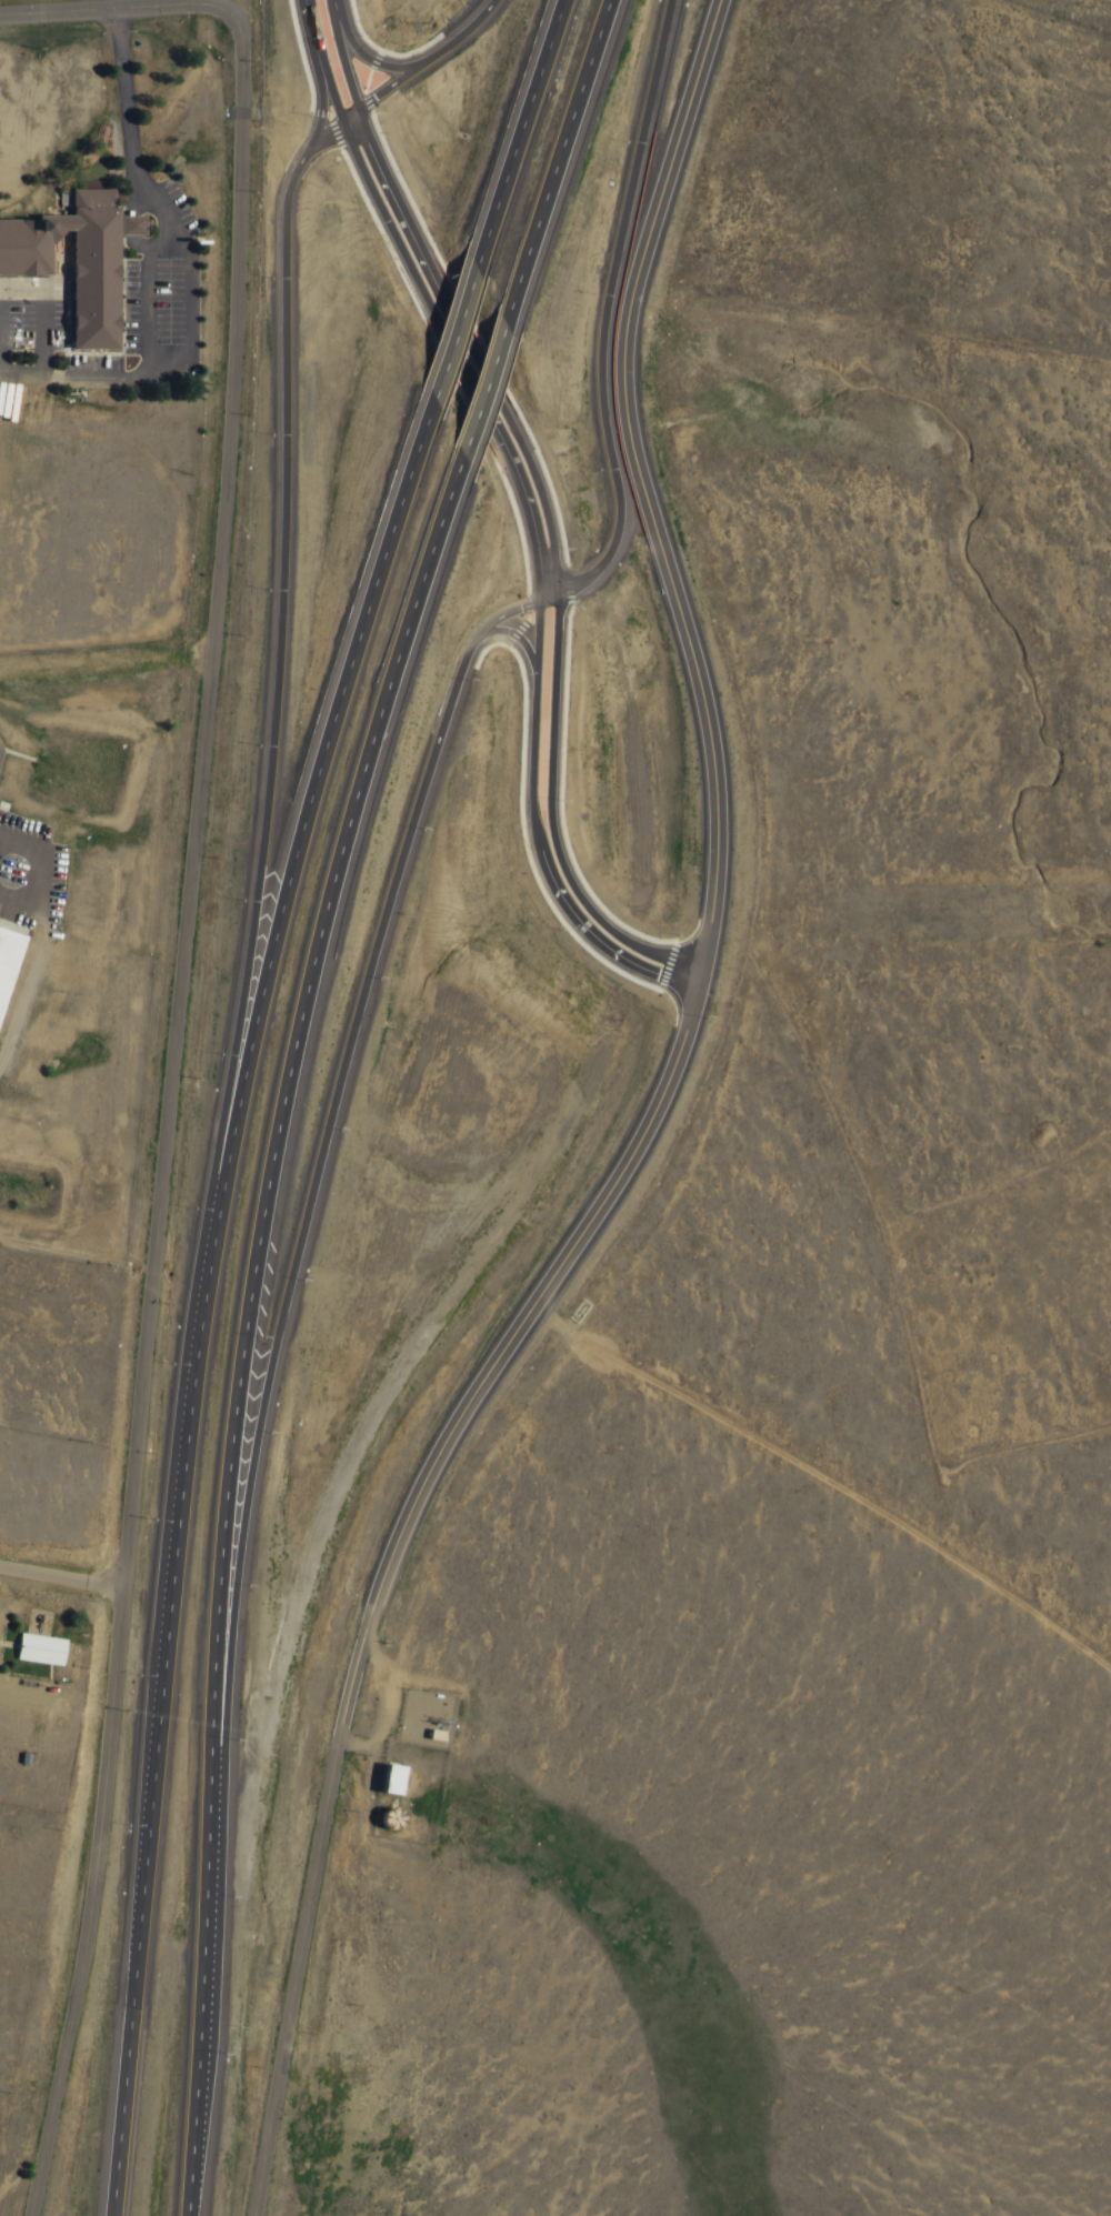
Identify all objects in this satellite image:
road: (114, 7)
road: (339, 52)
road: (322, 58)
road: (404, 62)
road: (363, 98)
road: (516, 133)
road: (368, 139)
road: (551, 162)
road: (399, 239)
building: (71, 255)
road: (427, 258)
road: (602, 303)
road: (450, 332)
road: (477, 389)
road: (530, 460)
road: (519, 472)
road: (274, 572)
road: (517, 631)
road: (532, 703)
road: (313, 770)
road: (194, 800)
road: (552, 813)
road: (581, 924)
building: (3, 944)
road: (276, 1115)
road: (637, 1131)
road: (314, 1159)
road: (60, 1576)
building: (31, 1645)
road: (159, 1683)
building: (429, 1731)
building: (386, 1778)
building: (399, 1779)
building: (387, 1815)
storage tank: (387, 1815)
road: (89, 1903)
road: (200, 2006)

